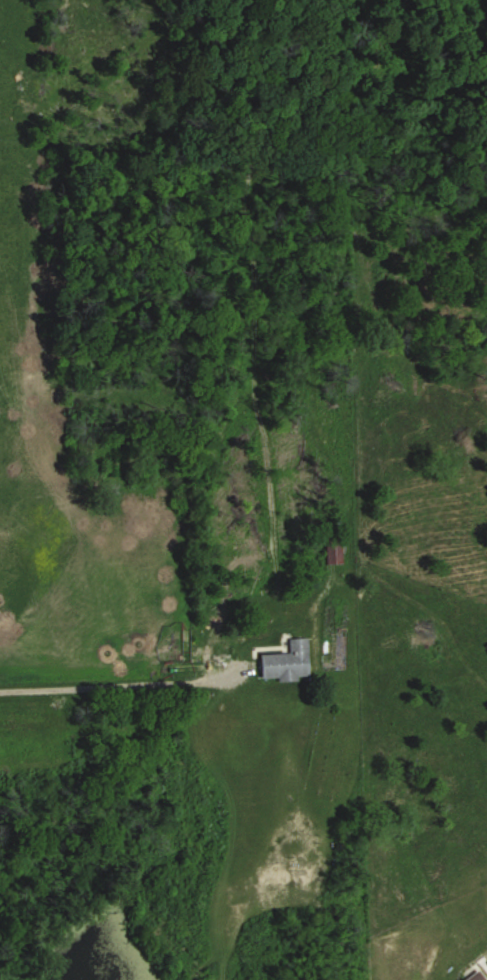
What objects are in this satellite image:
building: (334, 550)
building: (287, 662)
road: (111, 683)
building: (476, 976)

